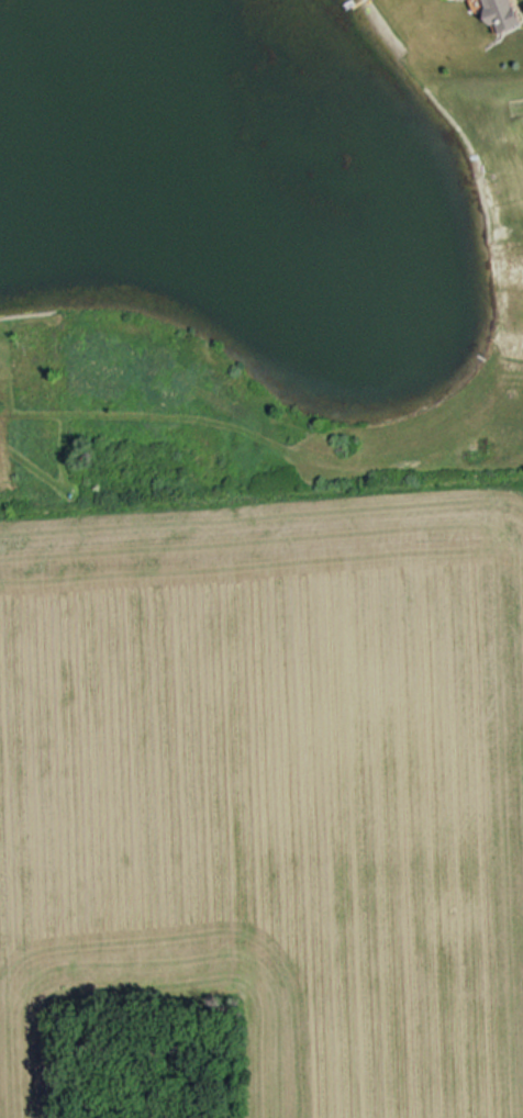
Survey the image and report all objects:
building: (507, 13)

